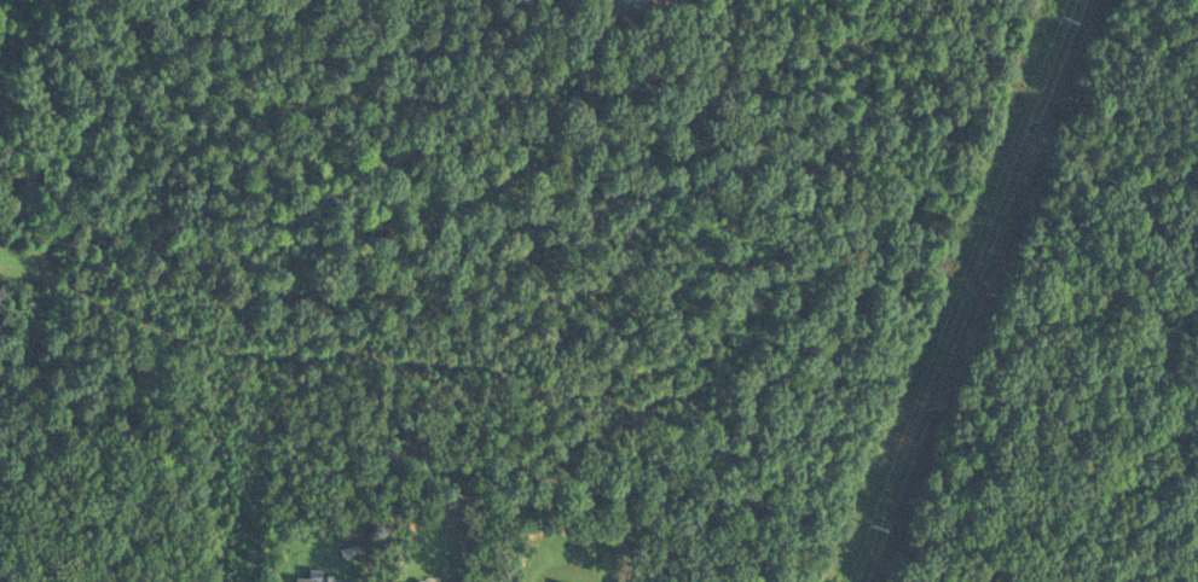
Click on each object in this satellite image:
building: (314, 578)

